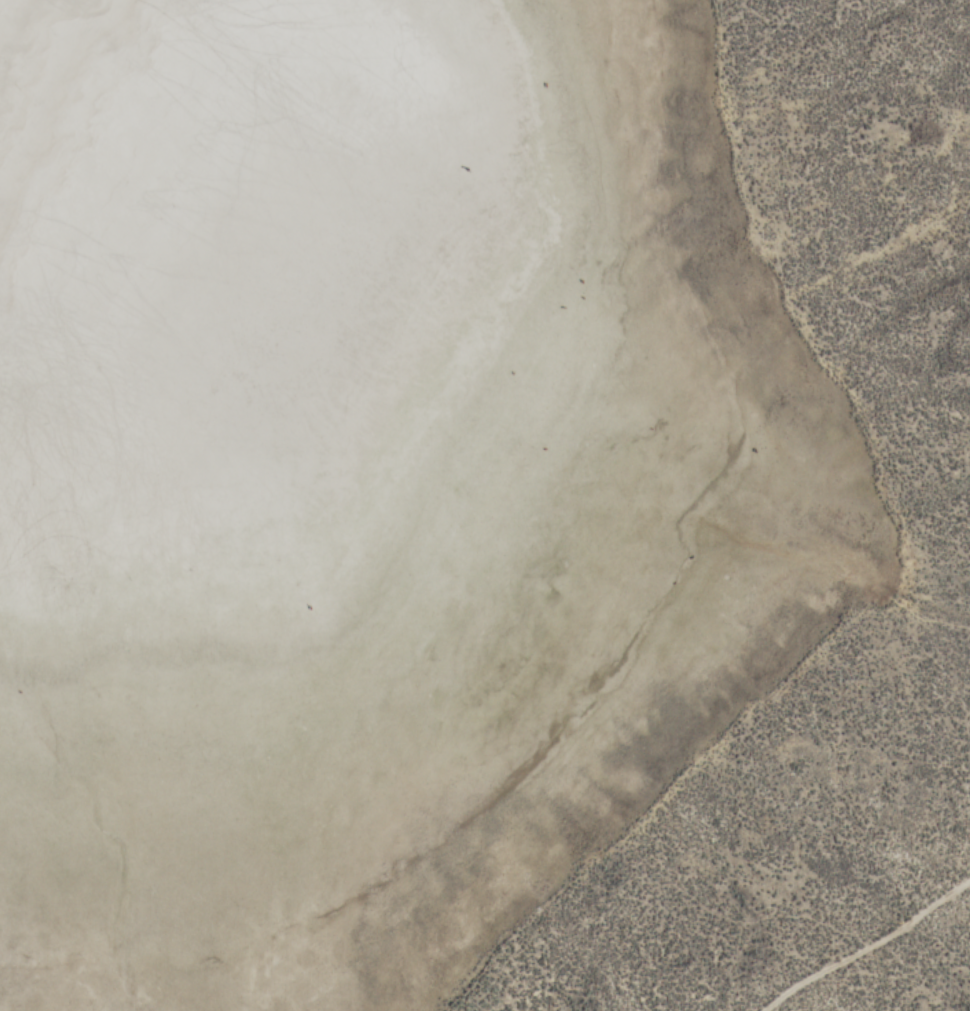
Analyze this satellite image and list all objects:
road: (867, 949)

